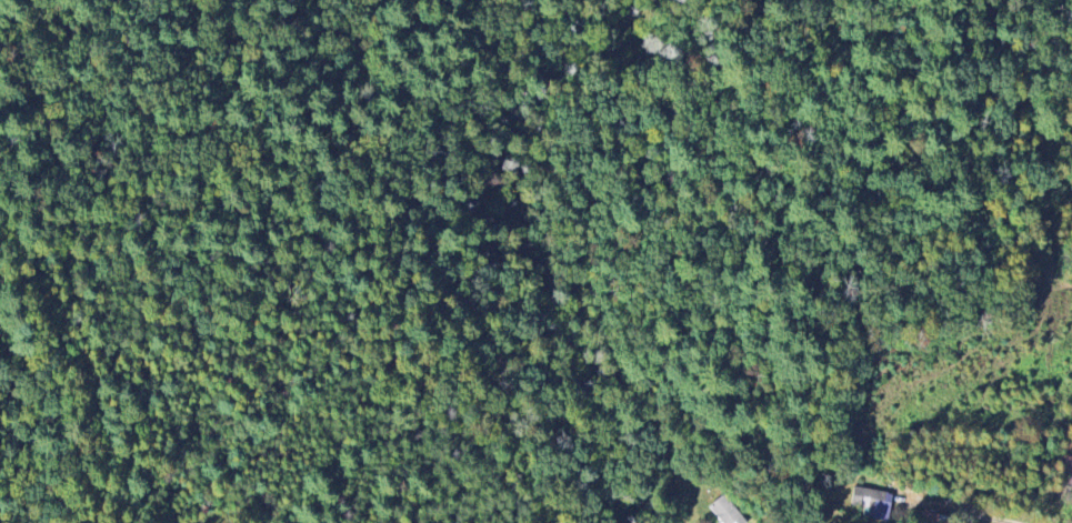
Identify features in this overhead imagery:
road: (344, 334)
building: (1065, 469)
building: (868, 502)
building: (725, 510)
road: (960, 510)

